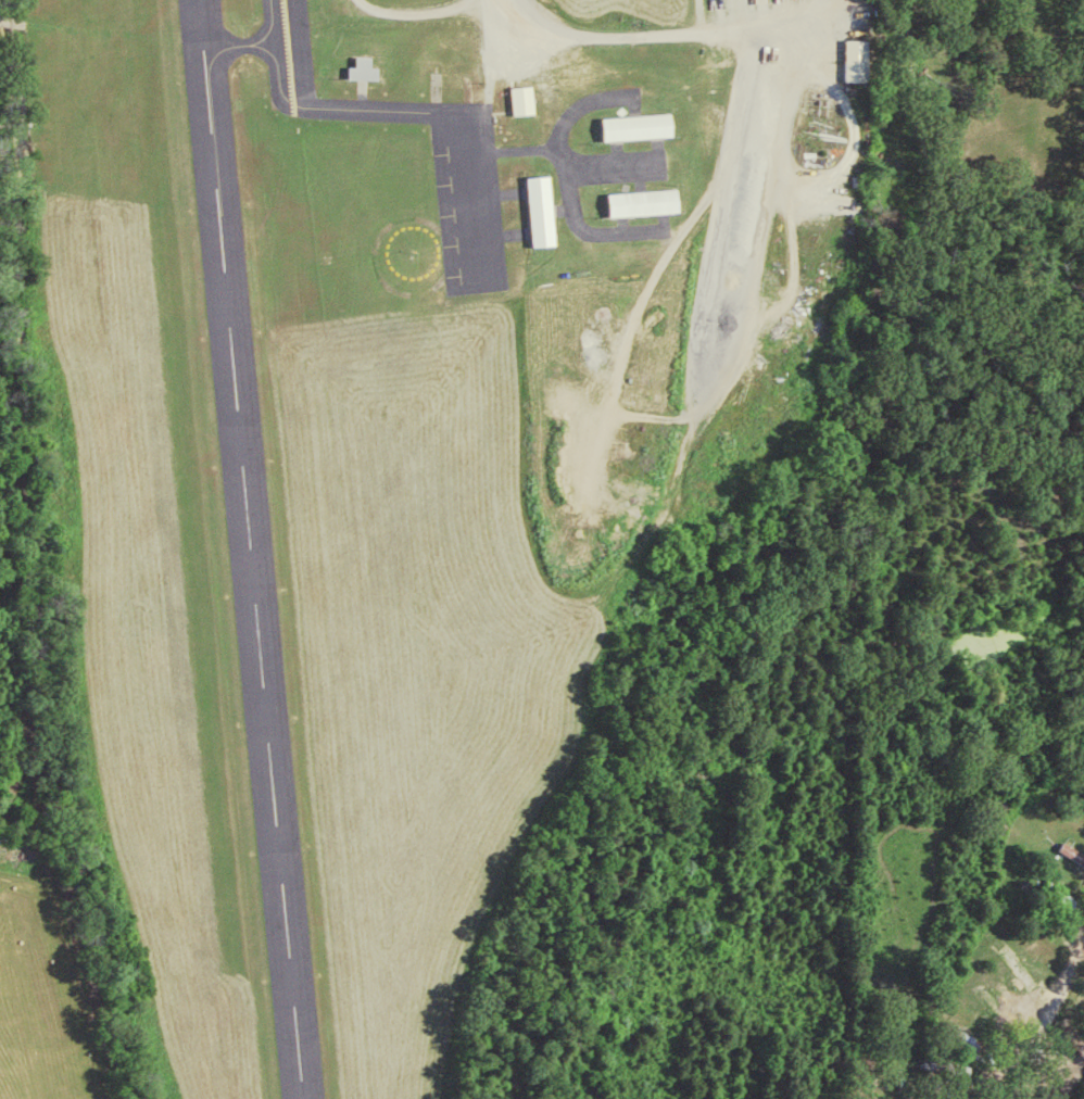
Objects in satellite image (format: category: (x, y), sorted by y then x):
road: (506, 7)
airport taxiway: (238, 46)
building: (858, 59)
building: (358, 67)
building: (518, 99)
airport taxiway: (308, 104)
building: (631, 124)
airport apron: (468, 198)
building: (638, 200)
building: (534, 210)
airport runway: (248, 548)
building: (1019, 969)
road: (1069, 970)
road: (1014, 1051)

